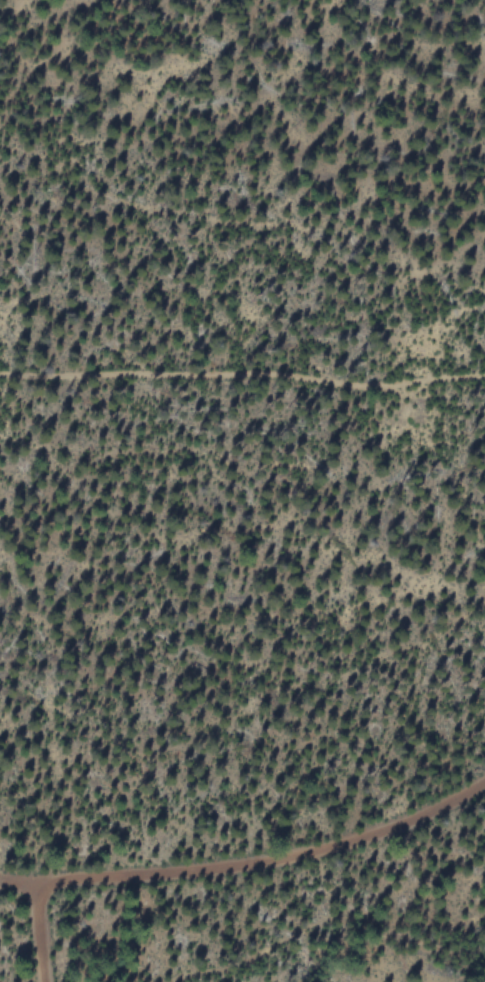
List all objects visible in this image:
road: (242, 382)
road: (221, 868)

